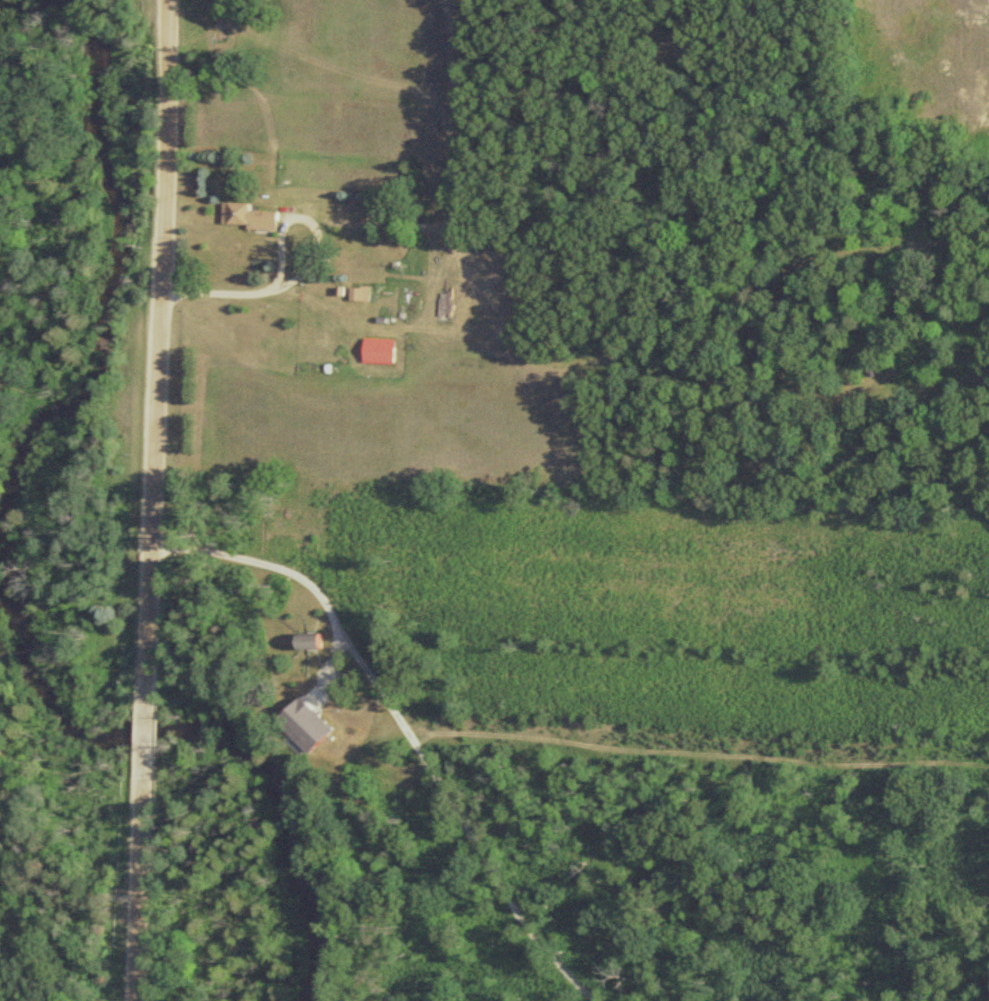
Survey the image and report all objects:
building: (247, 216)
river: (118, 258)
building: (359, 293)
road: (158, 350)
building: (377, 350)
building: (308, 643)
road: (147, 732)
building: (304, 733)
river: (213, 735)
road: (141, 882)

